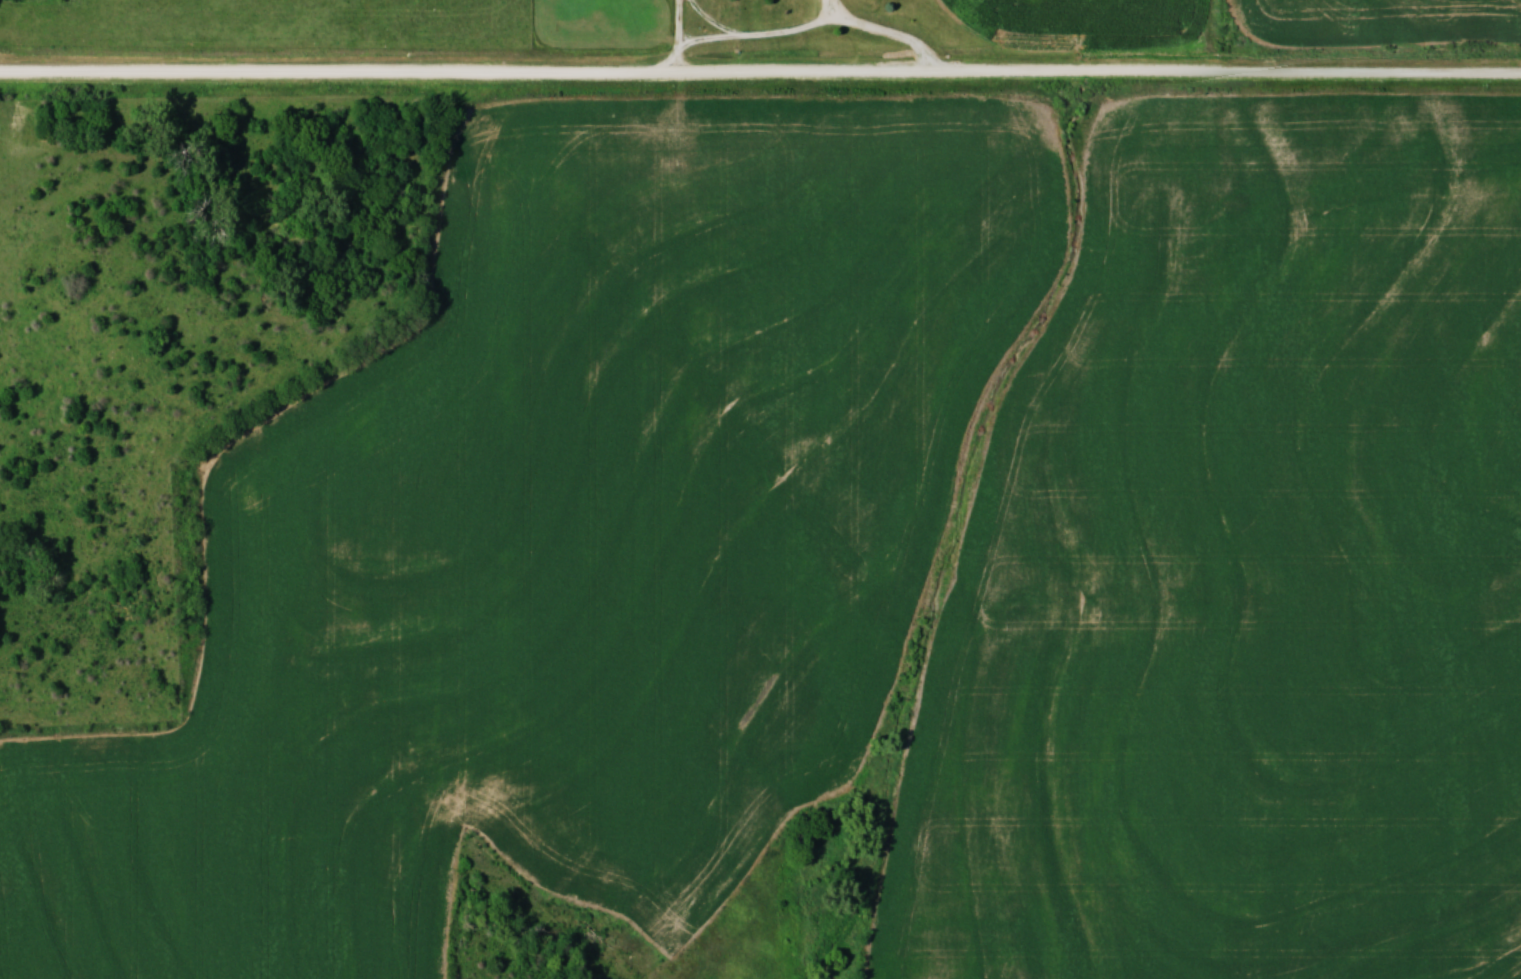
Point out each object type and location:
road: (884, 34)
road: (680, 37)
road: (760, 75)

